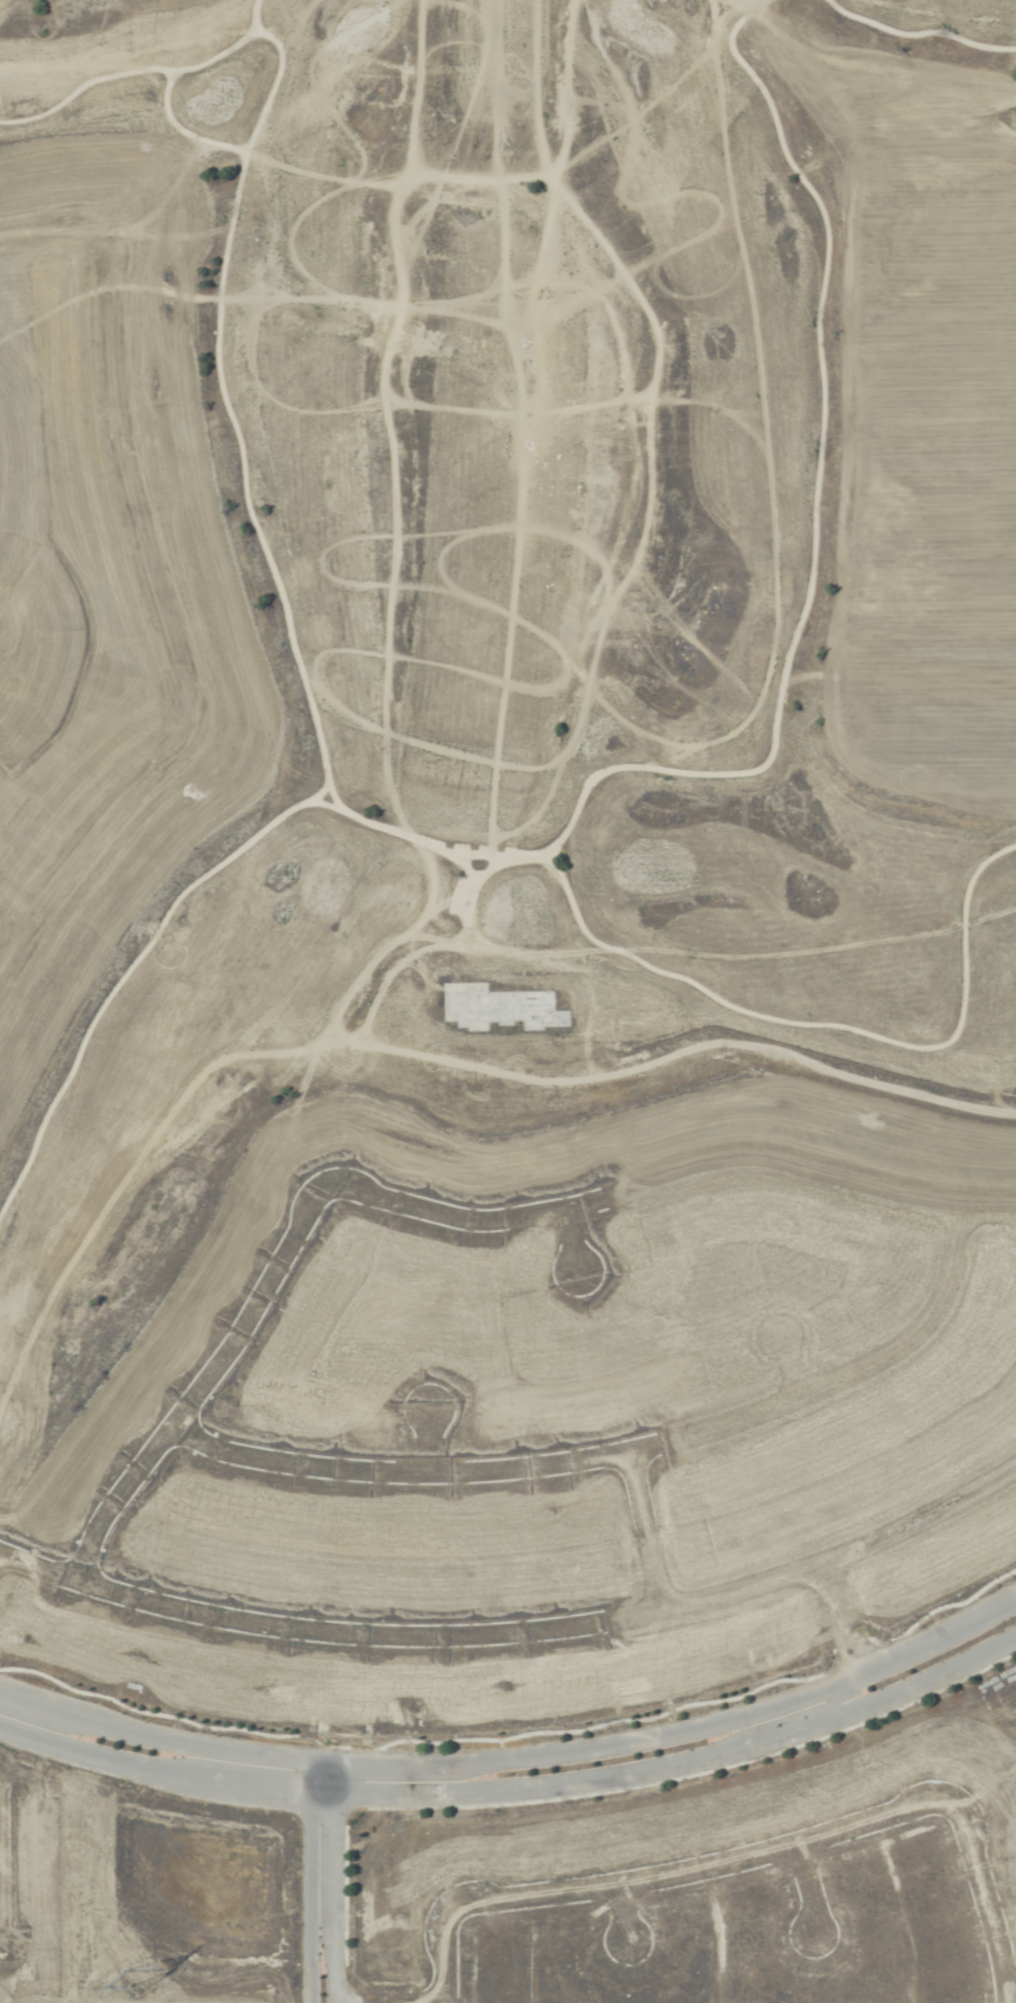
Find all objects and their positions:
power tower: (154, 1981)

